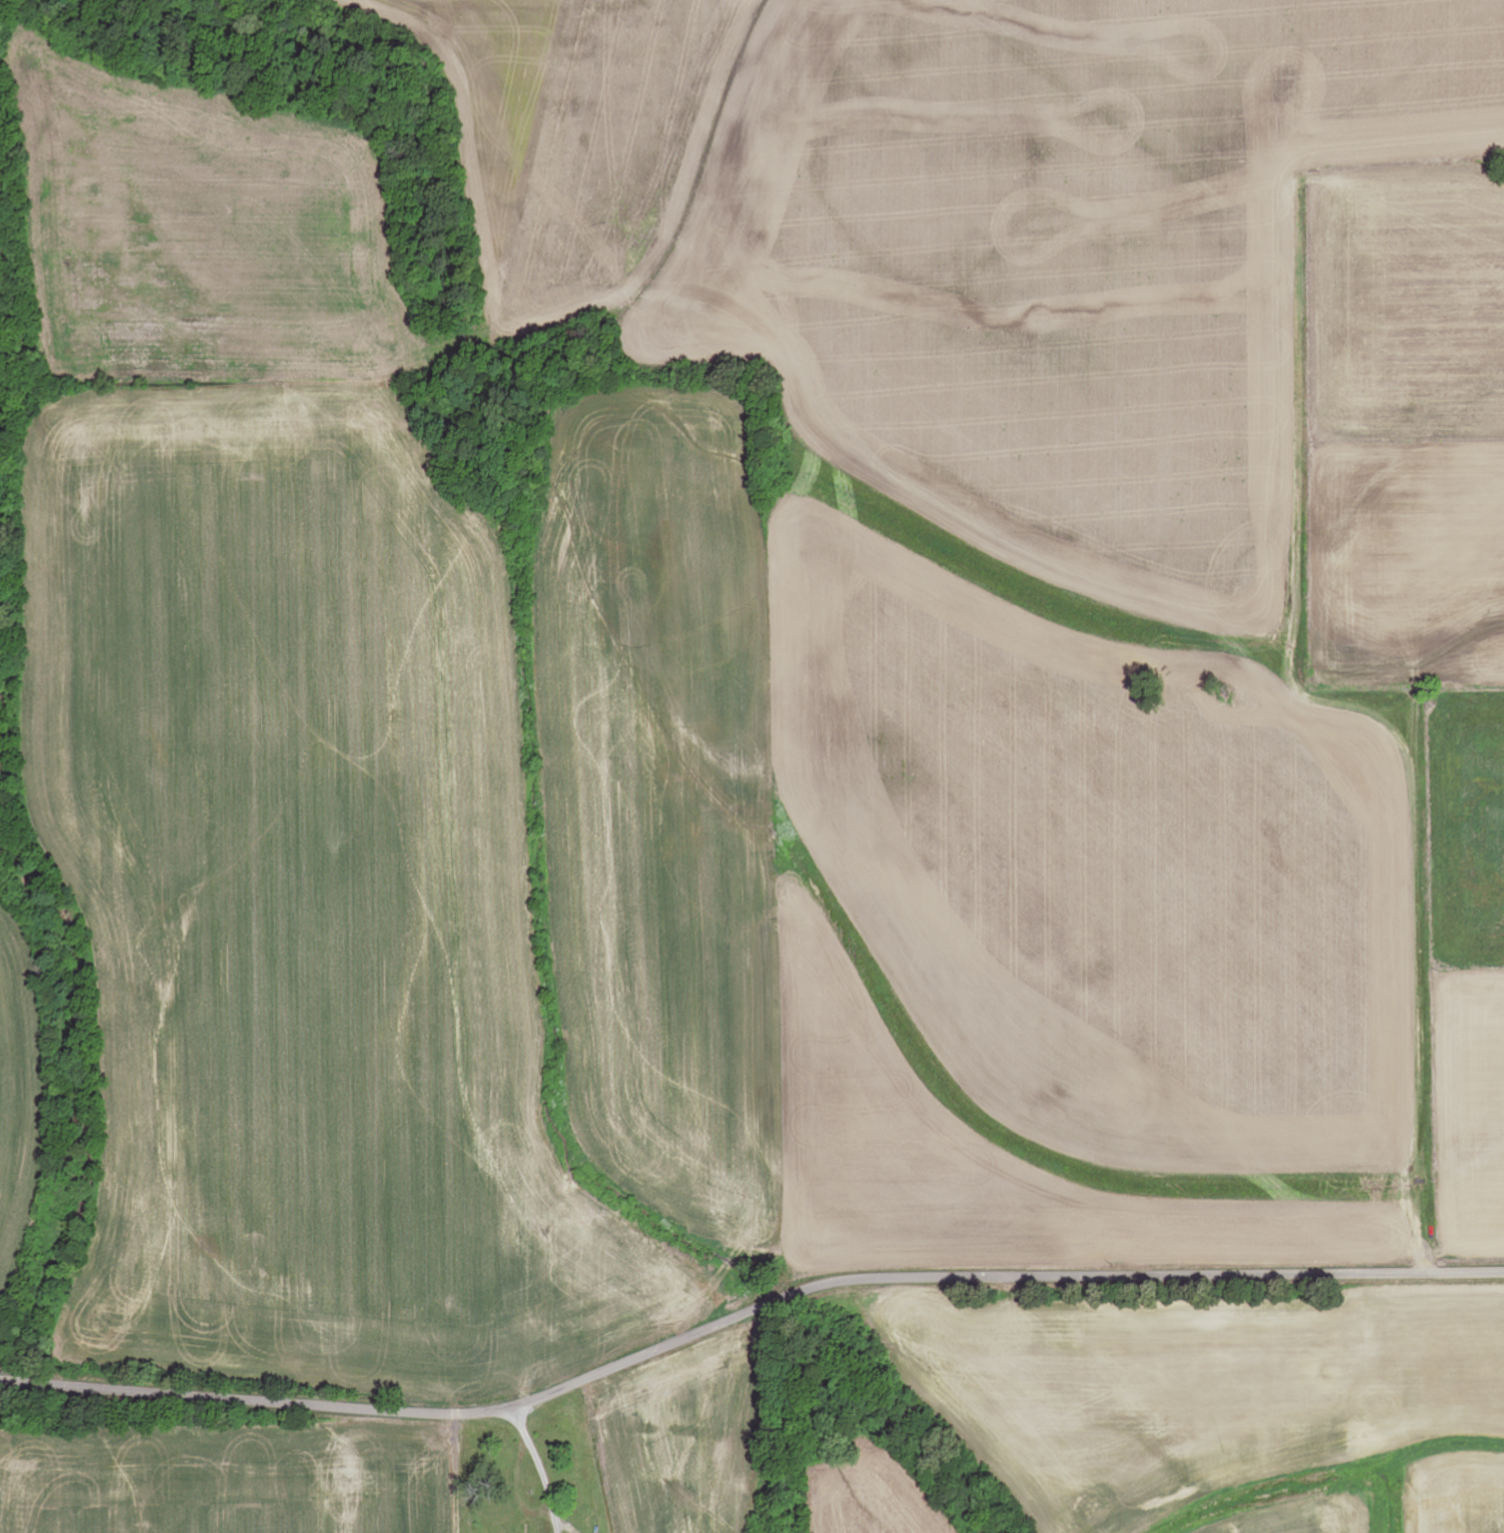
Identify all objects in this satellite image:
road: (745, 1313)

